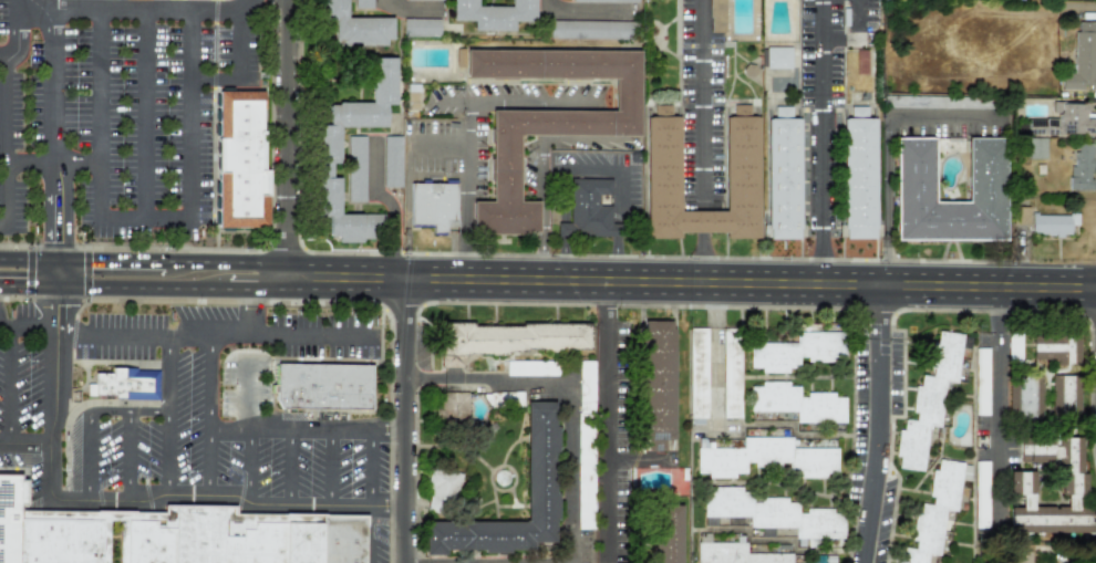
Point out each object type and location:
building: (608, 1)
road: (247, 2)
building: (362, 3)
road: (136, 10)
road: (857, 12)
building: (493, 14)
building: (715, 15)
parking lot: (3, 22)
building: (354, 25)
road: (244, 41)
road: (24, 52)
building: (777, 58)
building: (1082, 59)
road: (217, 79)
building: (954, 102)
road: (514, 103)
road: (97, 115)
road: (145, 115)
road: (190, 115)
road: (823, 115)
road: (702, 118)
building: (546, 119)
building: (1064, 121)
parking lot: (143, 125)
road: (52, 134)
road: (289, 138)
road: (6, 140)
road: (211, 140)
building: (327, 145)
parking lot: (17, 146)
road: (440, 147)
road: (888, 148)
building: (1036, 148)
road: (467, 150)
building: (240, 158)
road: (51, 160)
building: (392, 161)
building: (741, 164)
building: (1082, 166)
building: (355, 168)
road: (590, 169)
building: (914, 169)
building: (782, 175)
building: (858, 175)
road: (391, 204)
building: (433, 206)
building: (588, 209)
road: (144, 219)
road: (465, 239)
road: (216, 240)
road: (257, 250)
road: (823, 257)
road: (28, 258)
road: (110, 260)
road: (702, 260)
road: (227, 261)
road: (55, 272)
road: (692, 281)
road: (28, 286)
road: (258, 286)
road: (142, 288)
road: (320, 302)
road: (56, 309)
road: (994, 309)
road: (250, 313)
road: (4, 326)
road: (32, 327)
road: (215, 335)
building: (511, 336)
building: (1056, 347)
building: (797, 351)
building: (731, 373)
building: (697, 376)
road: (492, 379)
building: (655, 379)
building: (123, 382)
road: (8, 385)
building: (325, 389)
road: (1094, 392)
building: (1065, 395)
building: (1025, 397)
building: (928, 400)
building: (796, 403)
parking lot: (230, 404)
building: (452, 409)
road: (126, 411)
road: (54, 414)
road: (165, 415)
road: (207, 415)
road: (415, 420)
road: (602, 421)
road: (996, 421)
road: (877, 424)
road: (289, 429)
road: (393, 429)
road: (24, 444)
building: (585, 445)
road: (128, 455)
road: (87, 456)
building: (764, 458)
building: (539, 460)
road: (250, 465)
road: (290, 467)
road: (332, 467)
road: (372, 467)
road: (570, 471)
building: (1074, 483)
building: (442, 490)
road: (232, 496)
building: (981, 496)
building: (935, 510)
building: (775, 513)
building: (8, 515)
building: (666, 533)
building: (732, 553)
building: (1022, 556)

